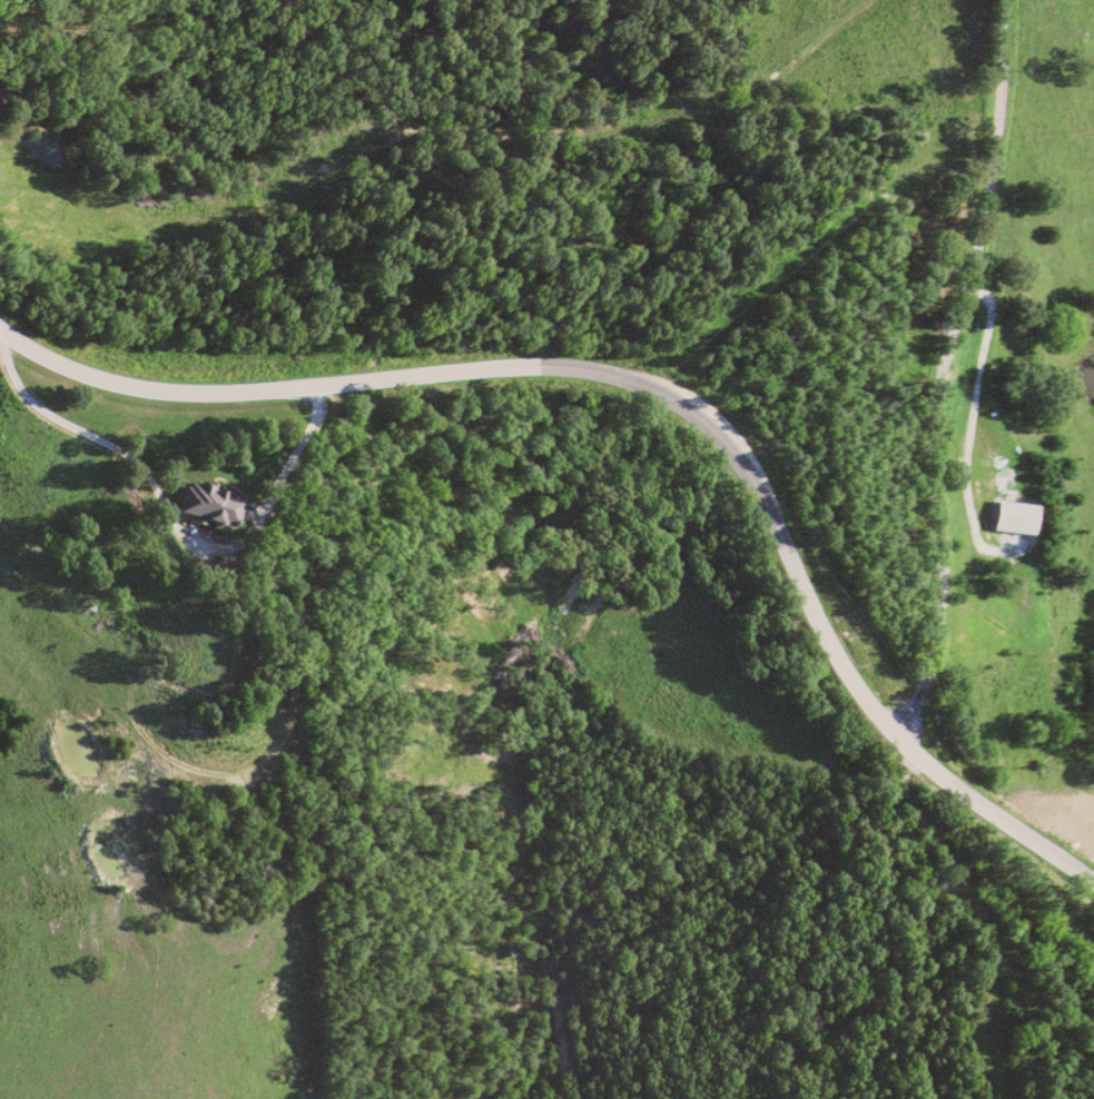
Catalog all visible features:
road: (946, 369)
road: (657, 387)
building: (209, 504)
building: (1014, 516)
road: (169, 517)

